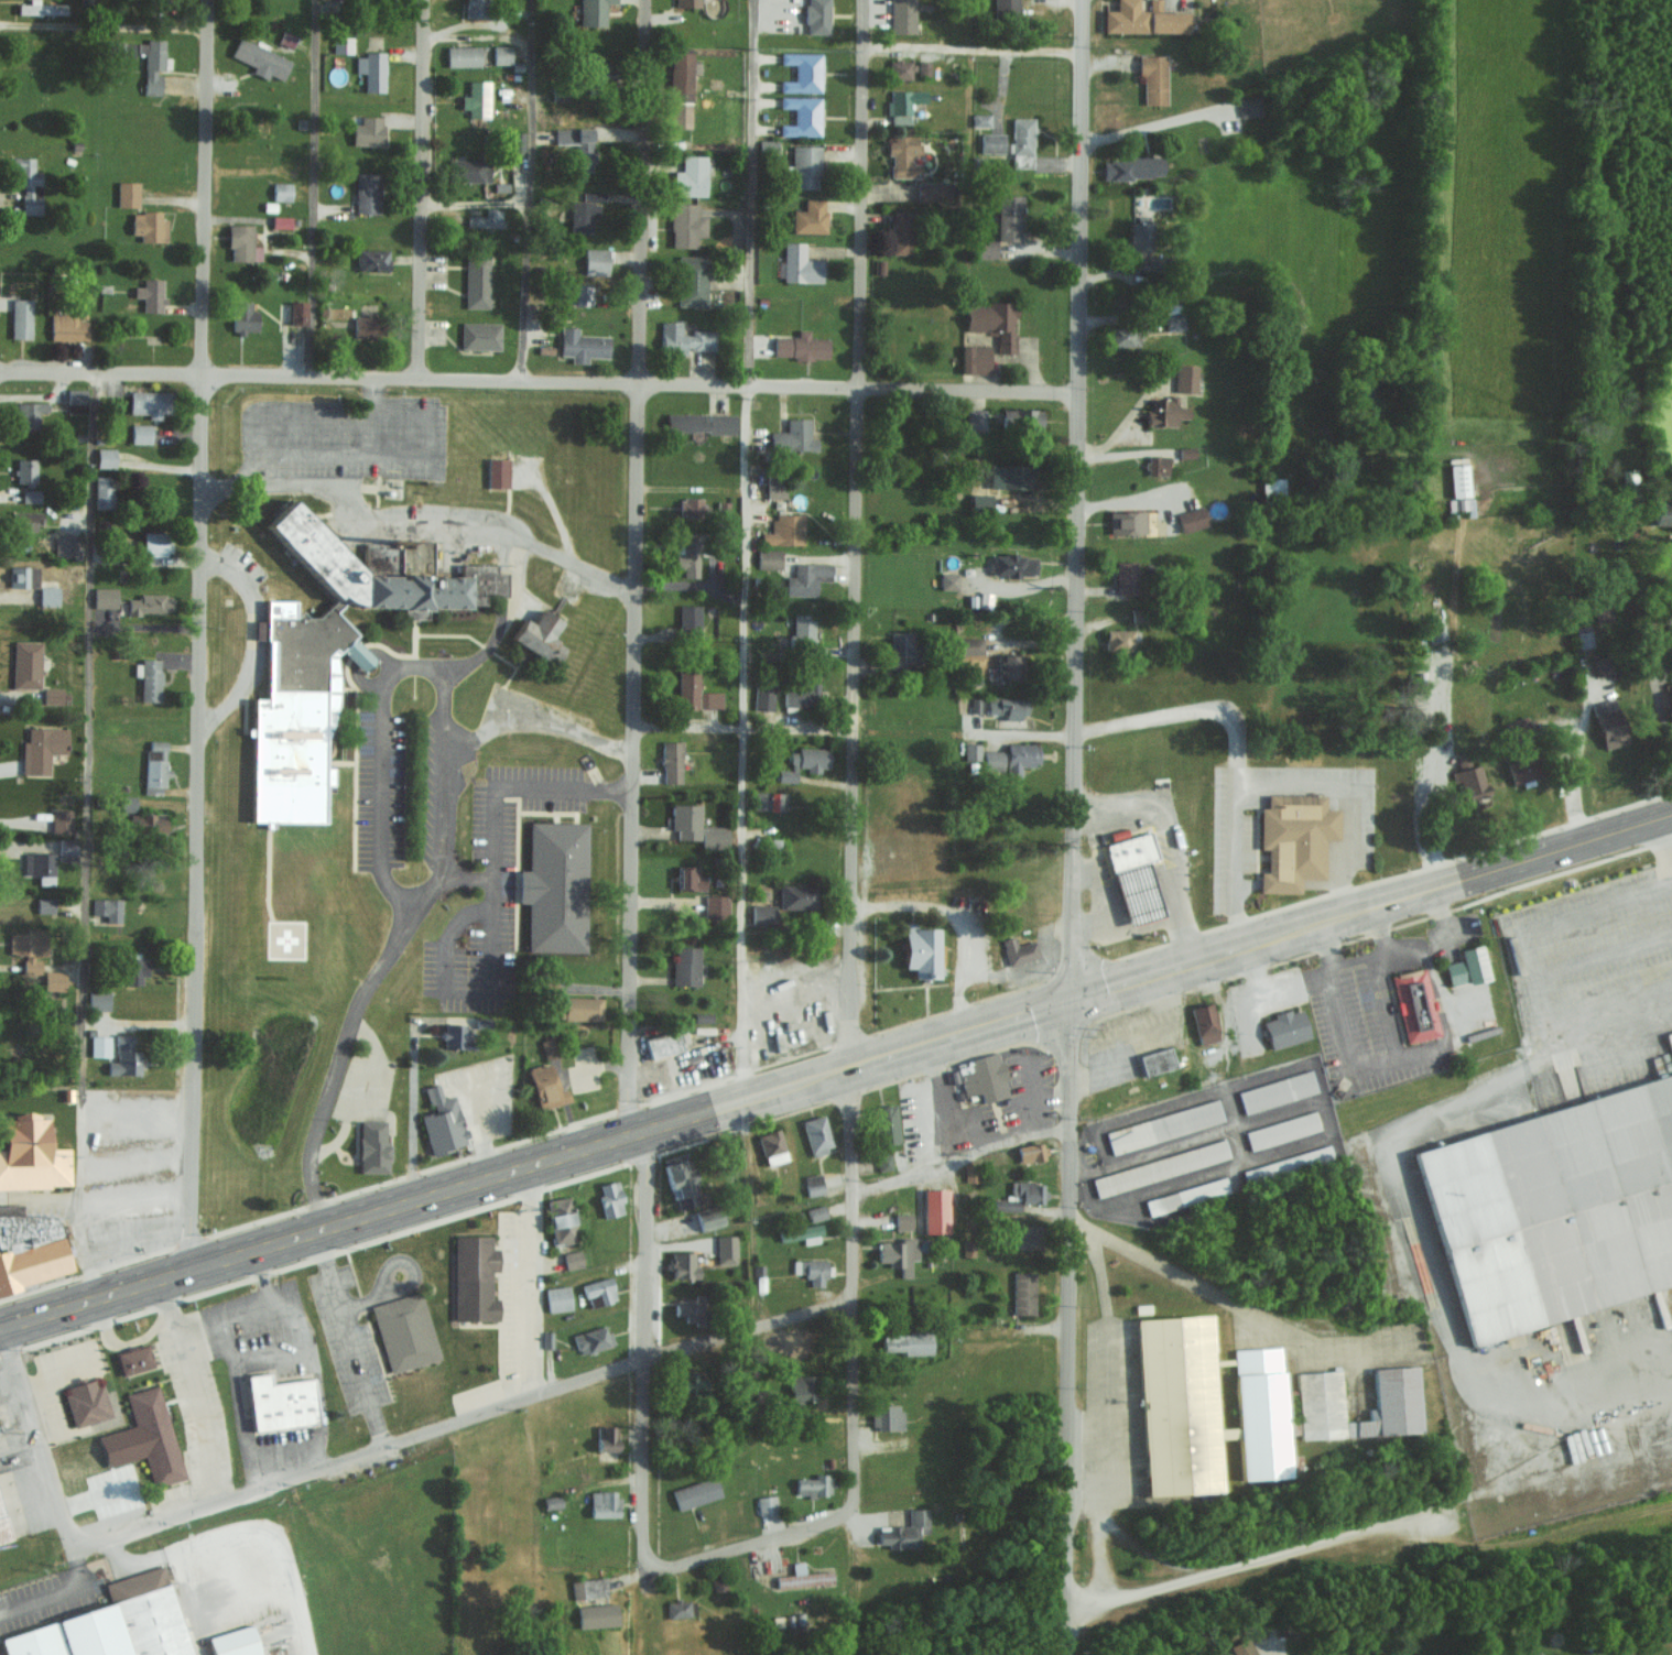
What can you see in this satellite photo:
building: (686, 3)
building: (42, 8)
building: (476, 8)
building: (1006, 9)
building: (594, 12)
building: (902, 15)
building: (817, 17)
building: (1144, 18)
road: (106, 28)
building: (286, 39)
building: (343, 44)
building: (121, 48)
road: (973, 48)
building: (501, 54)
building: (463, 55)
building: (261, 59)
building: (152, 64)
building: (923, 67)
building: (900, 68)
building: (372, 69)
building: (803, 72)
building: (683, 76)
building: (1153, 78)
building: (476, 98)
building: (903, 104)
building: (1249, 105)
building: (681, 115)
building: (802, 116)
building: (980, 119)
building: (368, 131)
building: (1022, 134)
building: (518, 142)
building: (992, 142)
building: (767, 146)
building: (904, 155)
building: (584, 156)
building: (1022, 160)
building: (805, 166)
building: (1133, 167)
building: (468, 170)
building: (691, 176)
building: (29, 184)
road: (313, 188)
road: (421, 189)
building: (282, 190)
road: (531, 190)
building: (932, 190)
building: (367, 192)
building: (128, 193)
building: (582, 216)
building: (810, 217)
building: (1009, 217)
building: (485, 218)
building: (281, 221)
building: (686, 225)
building: (149, 226)
building: (901, 231)
building: (1140, 233)
building: (242, 243)
building: (987, 249)
building: (596, 255)
building: (372, 260)
building: (800, 264)
building: (477, 281)
building: (692, 281)
building: (583, 293)
building: (152, 295)
building: (297, 312)
building: (1173, 316)
building: (243, 317)
building: (21, 318)
building: (994, 322)
building: (366, 326)
building: (68, 327)
building: (480, 335)
building: (1120, 336)
building: (685, 338)
building: (583, 345)
building: (801, 346)
building: (975, 359)
building: (1185, 378)
road: (538, 381)
road: (371, 398)
building: (76, 400)
building: (149, 403)
building: (1165, 412)
building: (31, 415)
road: (412, 417)
building: (975, 420)
building: (1024, 420)
building: (701, 422)
building: (140, 433)
building: (793, 436)
building: (106, 457)
building: (1158, 465)
building: (25, 470)
building: (497, 472)
building: (1017, 476)
building: (1459, 480)
building: (774, 486)
building: (1273, 489)
building: (104, 491)
building: (30, 496)
road: (1076, 498)
building: (980, 500)
building: (1461, 505)
building: (690, 507)
road: (365, 513)
building: (1664, 513)
building: (25, 519)
building: (1192, 519)
building: (1127, 522)
building: (784, 530)
road: (858, 532)
road: (567, 540)
building: (155, 543)
building: (67, 545)
road: (743, 548)
building: (687, 555)
building: (769, 558)
road: (633, 565)
building: (1013, 565)
building: (23, 576)
building: (1127, 577)
building: (807, 578)
building: (948, 580)
building: (48, 596)
building: (105, 598)
building: (985, 599)
building: (150, 603)
building: (1604, 611)
building: (1138, 616)
building: (690, 618)
building: (1433, 625)
building: (803, 631)
road: (200, 633)
building: (540, 635)
building: (1584, 639)
road: (252, 640)
building: (1119, 640)
building: (969, 646)
building: (902, 651)
building: (333, 654)
building: (26, 664)
building: (1602, 665)
building: (1009, 666)
road: (397, 667)
building: (149, 679)
building: (695, 693)
building: (52, 695)
building: (800, 695)
building: (763, 697)
building: (1670, 697)
building: (1008, 707)
road: (532, 709)
building: (1670, 715)
building: (1610, 722)
road: (743, 730)
building: (1521, 730)
building: (42, 749)
building: (971, 751)
road: (1236, 752)
building: (1012, 758)
building: (671, 762)
building: (804, 762)
building: (155, 766)
building: (1523, 769)
road: (445, 776)
building: (1470, 777)
building: (770, 801)
road: (1345, 801)
building: (128, 804)
building: (61, 820)
building: (685, 820)
building: (146, 824)
road: (86, 836)
building: (714, 837)
building: (1295, 839)
road: (1175, 848)
building: (67, 849)
building: (40, 867)
building: (1136, 878)
building: (691, 879)
building: (556, 886)
building: (797, 896)
road: (1099, 897)
building: (45, 905)
building: (716, 905)
building: (108, 908)
building: (763, 914)
road: (410, 925)
helipad: (293, 944)
building: (28, 948)
building: (1019, 950)
building: (923, 951)
building: (686, 966)
building: (1468, 967)
building: (134, 970)
building: (54, 980)
road: (466, 994)
traffic signals: (1075, 997)
building: (98, 999)
building: (1415, 1005)
building: (583, 1008)
building: (1205, 1023)
building: (1286, 1028)
building: (456, 1035)
building: (663, 1043)
building: (99, 1045)
building: (549, 1047)
building: (124, 1056)
building: (1158, 1059)
road: (835, 1069)
building: (982, 1076)
building: (546, 1085)
building: (1277, 1090)
building: (443, 1121)
building: (887, 1123)
building: (1164, 1124)
building: (1282, 1129)
building: (817, 1133)
building: (373, 1145)
building: (772, 1145)
building: (1031, 1151)
building: (32, 1153)
building: (884, 1161)
road: (964, 1161)
building: (1286, 1162)
building: (1160, 1166)
building: (813, 1184)
building: (1020, 1195)
building: (1186, 1195)
building: (611, 1198)
building: (1556, 1207)
building: (936, 1210)
building: (816, 1212)
building: (709, 1217)
building: (562, 1219)
building: (903, 1220)
building: (802, 1233)
building: (1024, 1235)
building: (30, 1246)
building: (968, 1246)
building: (726, 1249)
building: (898, 1253)
building: (573, 1259)
building: (684, 1264)
building: (812, 1270)
building: (475, 1277)
road: (532, 1278)
road: (854, 1288)
building: (599, 1291)
building: (1023, 1292)
building: (557, 1297)
building: (690, 1307)
road: (1068, 1326)
building: (404, 1331)
road: (350, 1336)
building: (593, 1338)
building: (906, 1342)
building: (133, 1359)
road: (642, 1367)
building: (692, 1383)
building: (803, 1386)
building: (1398, 1389)
road: (189, 1391)
building: (87, 1401)
building: (281, 1401)
building: (1181, 1404)
building: (1262, 1412)
road: (479, 1413)
building: (887, 1415)
building: (155, 1435)
building: (607, 1437)
road: (44, 1453)
building: (814, 1484)
building: (696, 1492)
building: (552, 1501)
building: (604, 1503)
building: (766, 1504)
building: (3, 1525)
road: (761, 1542)
building: (804, 1577)
building: (588, 1588)
building: (678, 1608)
building: (597, 1614)
building: (113, 1623)
building: (236, 1642)
building: (1242, 1647)
building: (1538, 1653)

